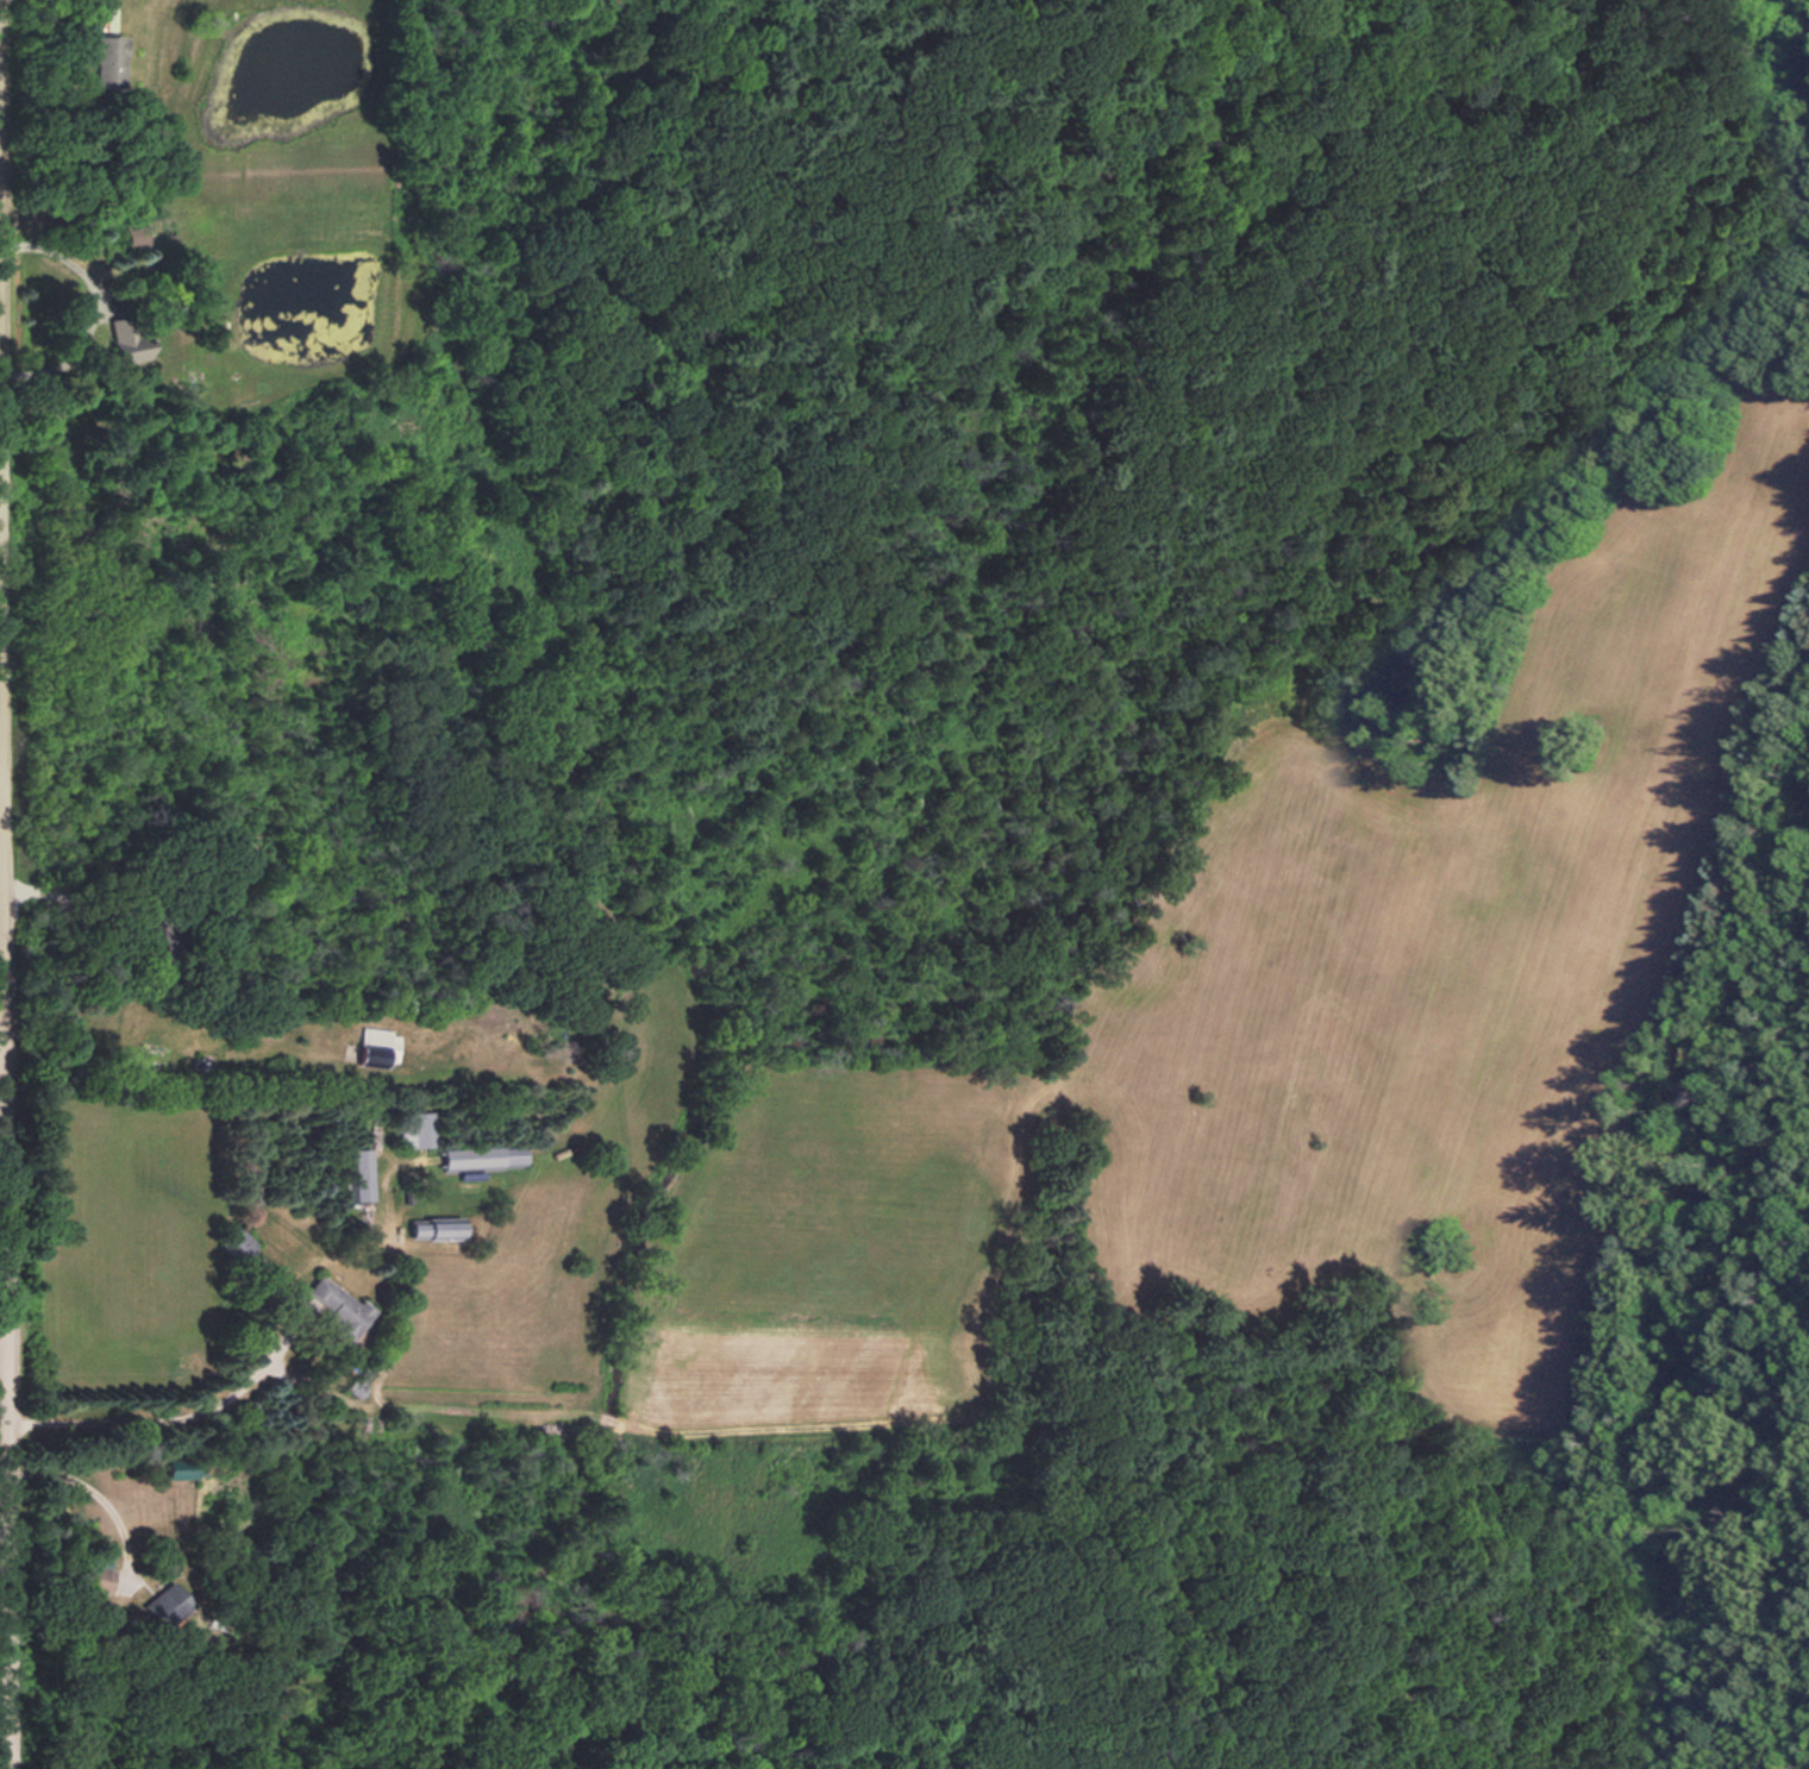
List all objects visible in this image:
road: (8, 884)
building: (359, 1184)
building: (326, 1304)
building: (90, 1579)

